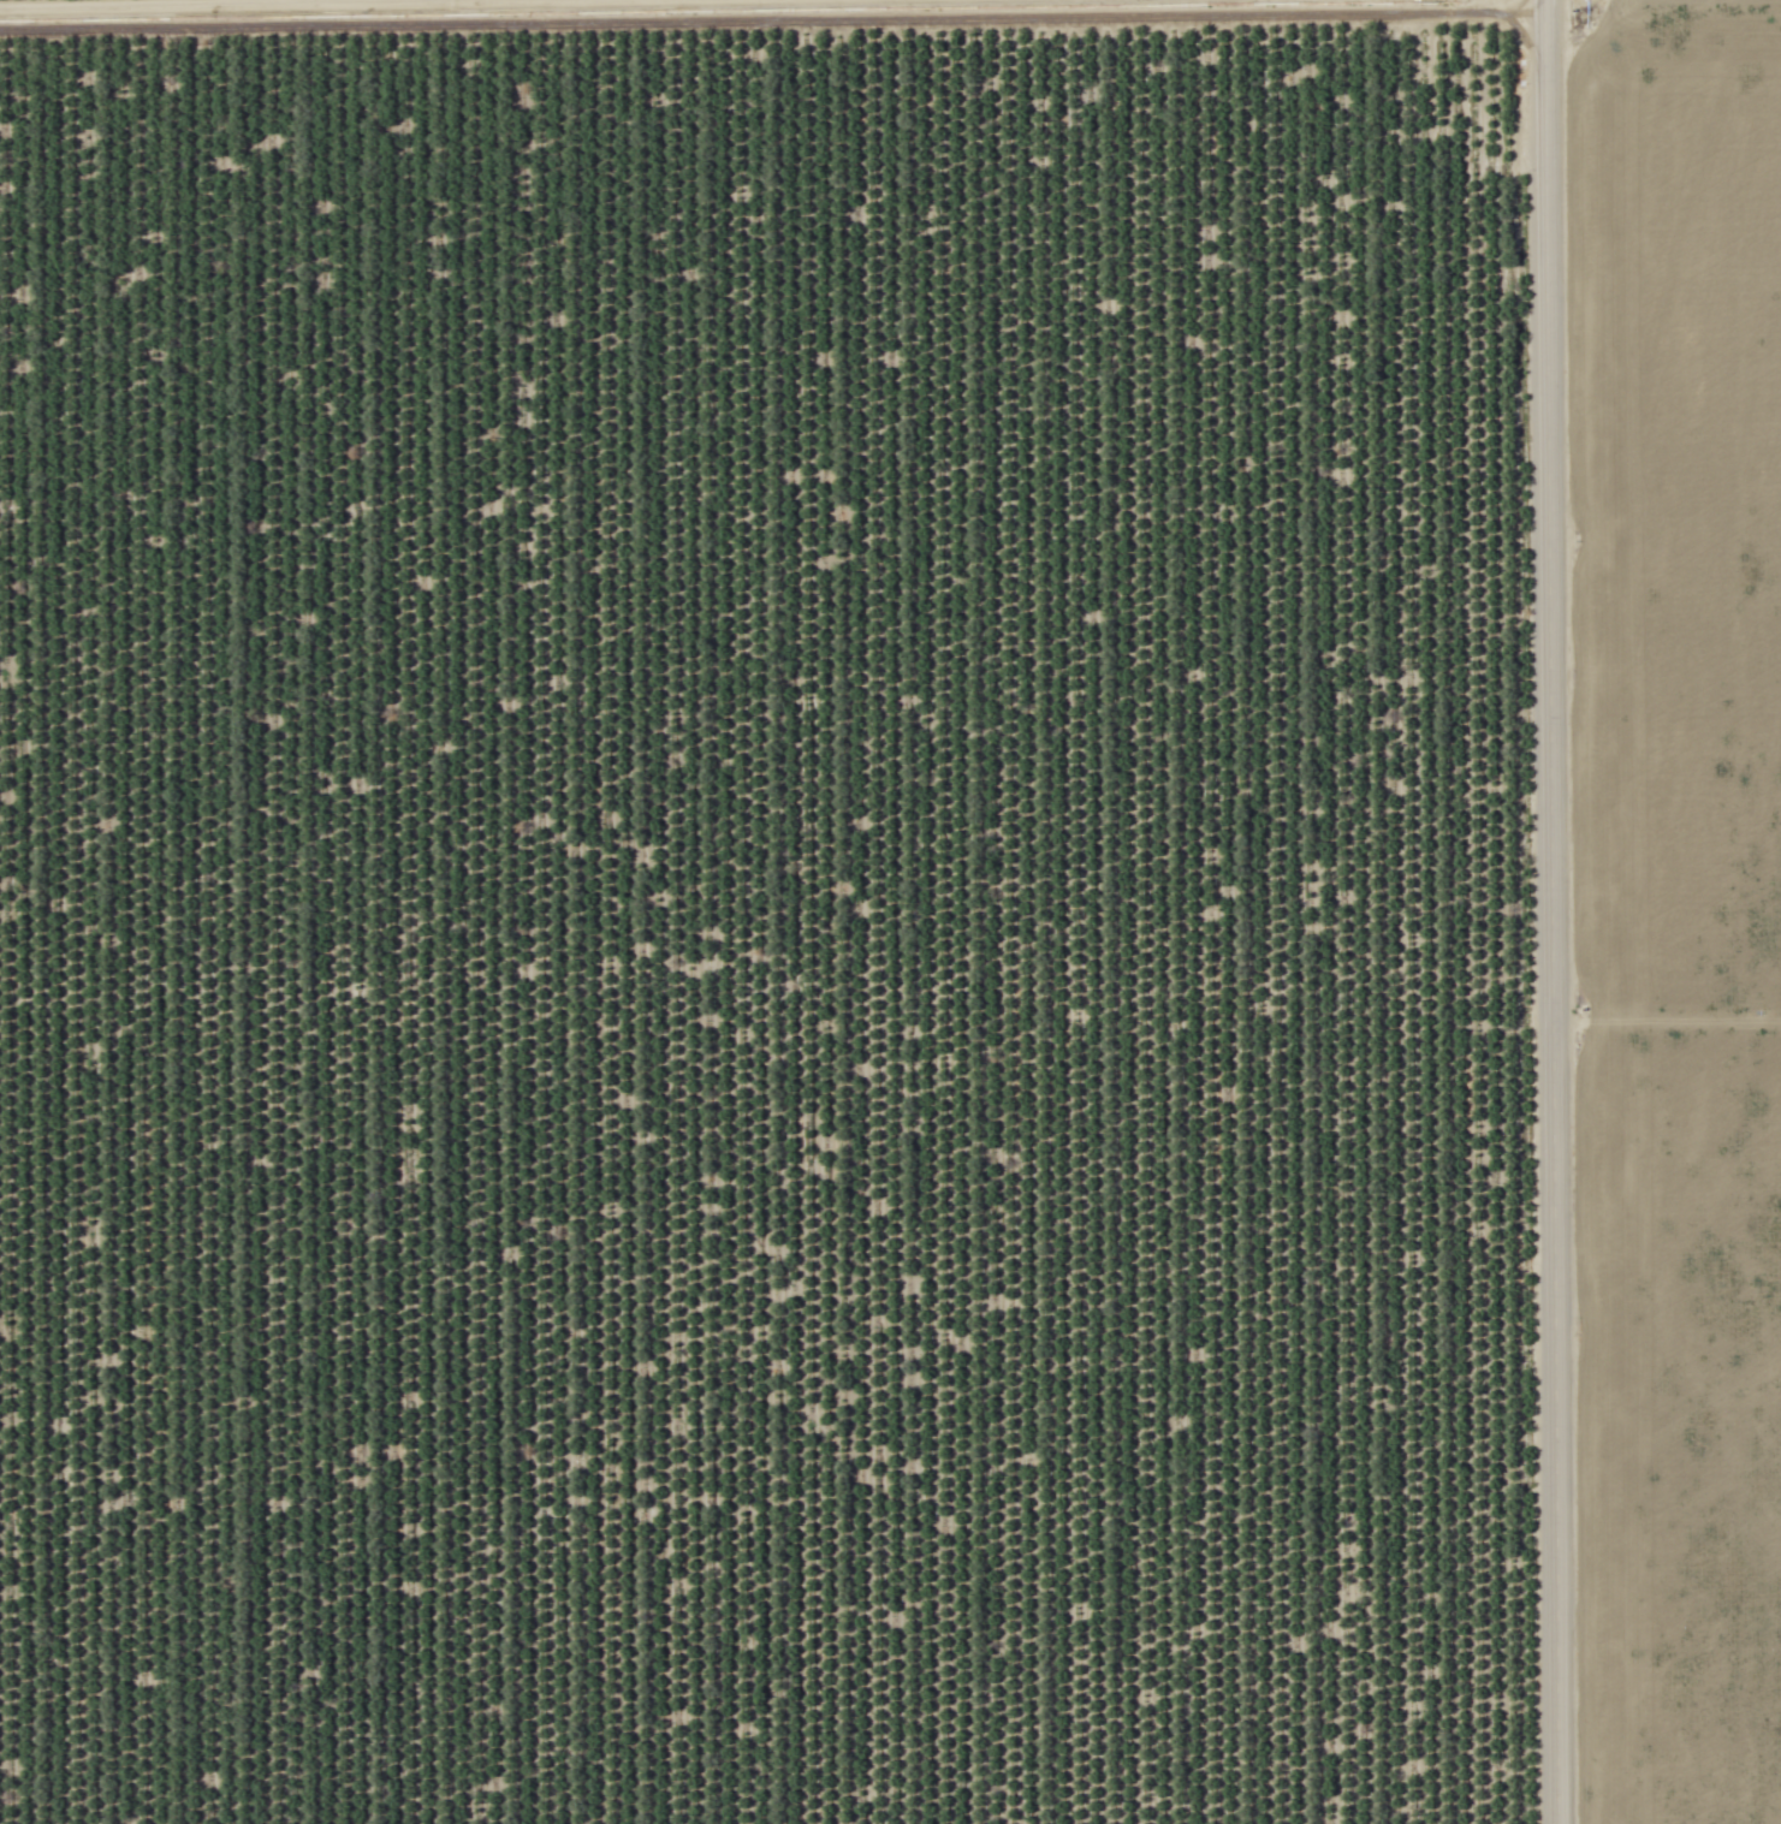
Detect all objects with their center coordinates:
road: (523, 10)
crop: (1684, 893)
road: (1556, 911)

